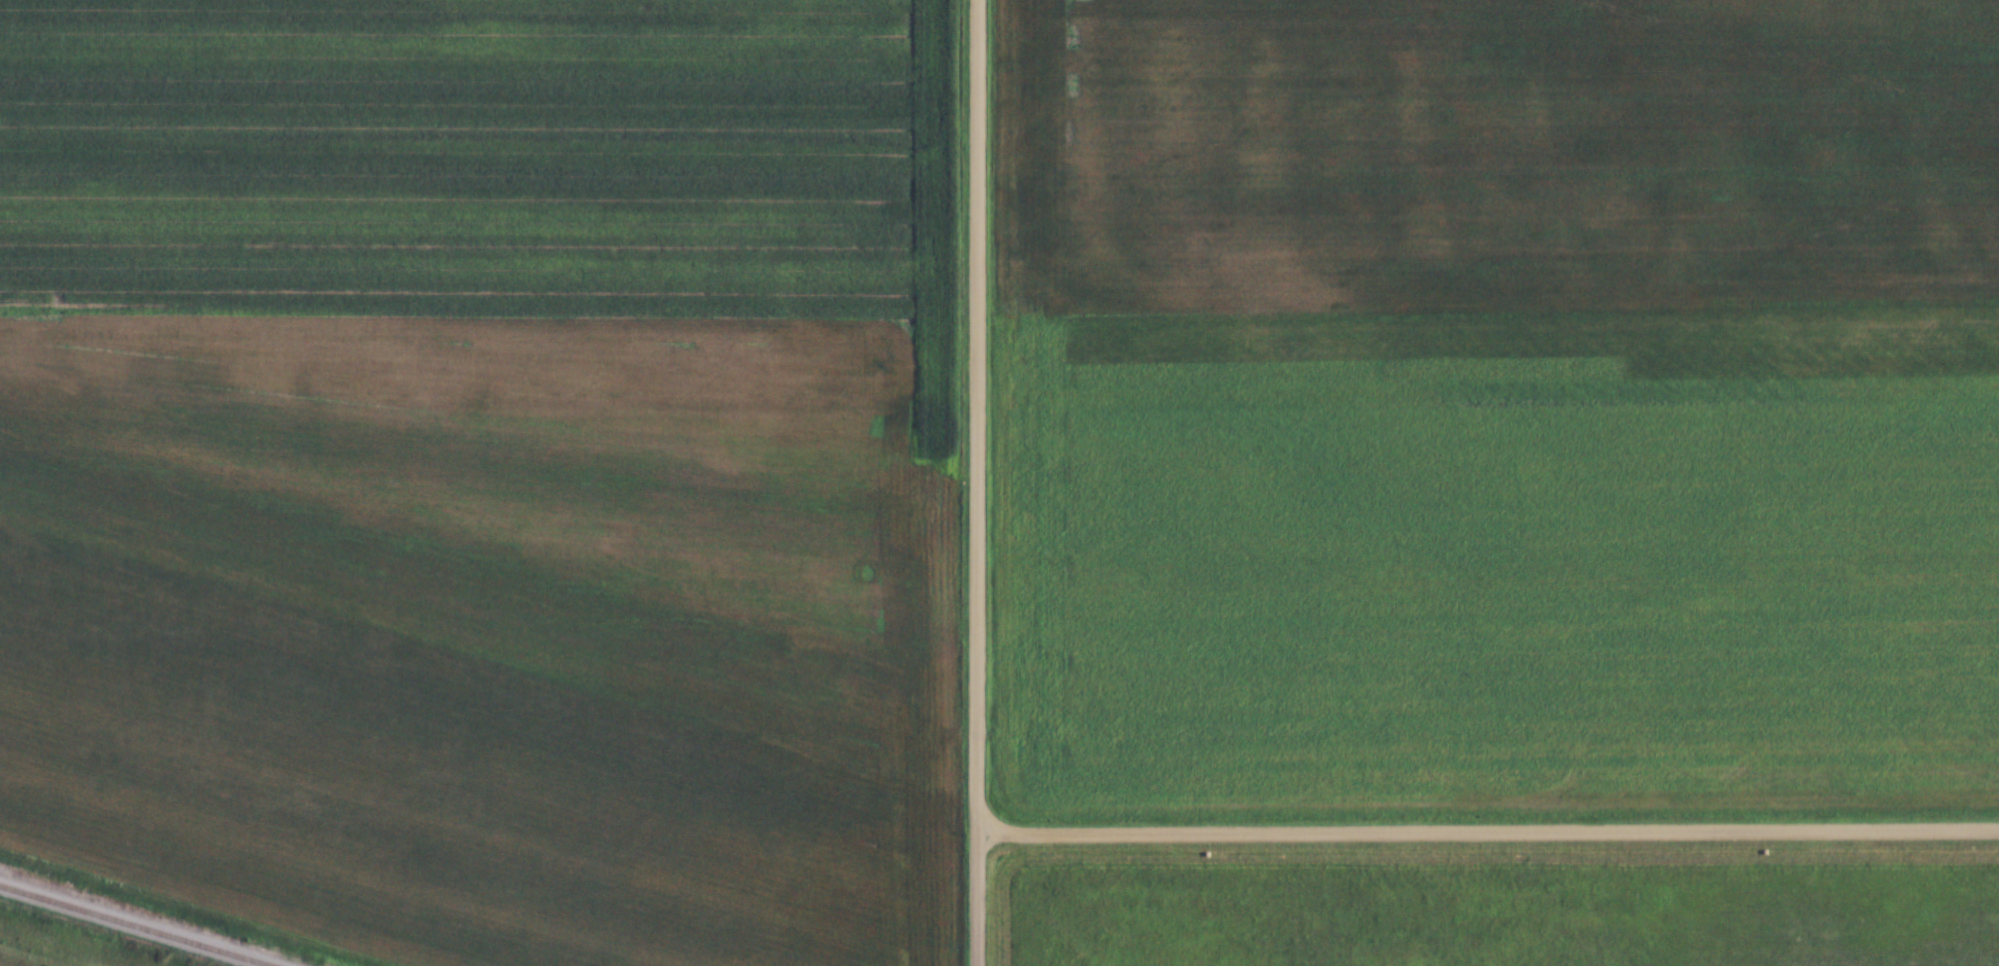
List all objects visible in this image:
road: (974, 482)
road: (1487, 829)
railway: (133, 926)
road: (36, 955)

